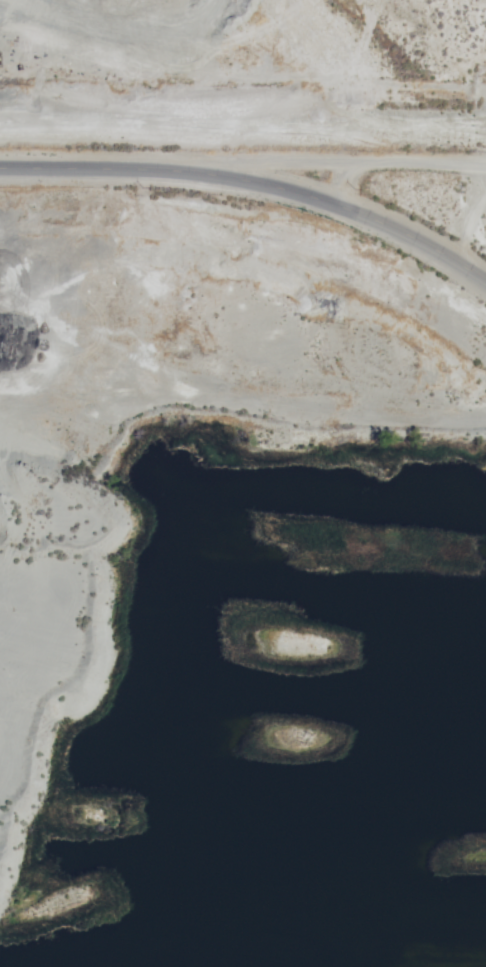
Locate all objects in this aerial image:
road: (313, 160)
road: (70, 164)
road: (356, 181)
road: (321, 195)

